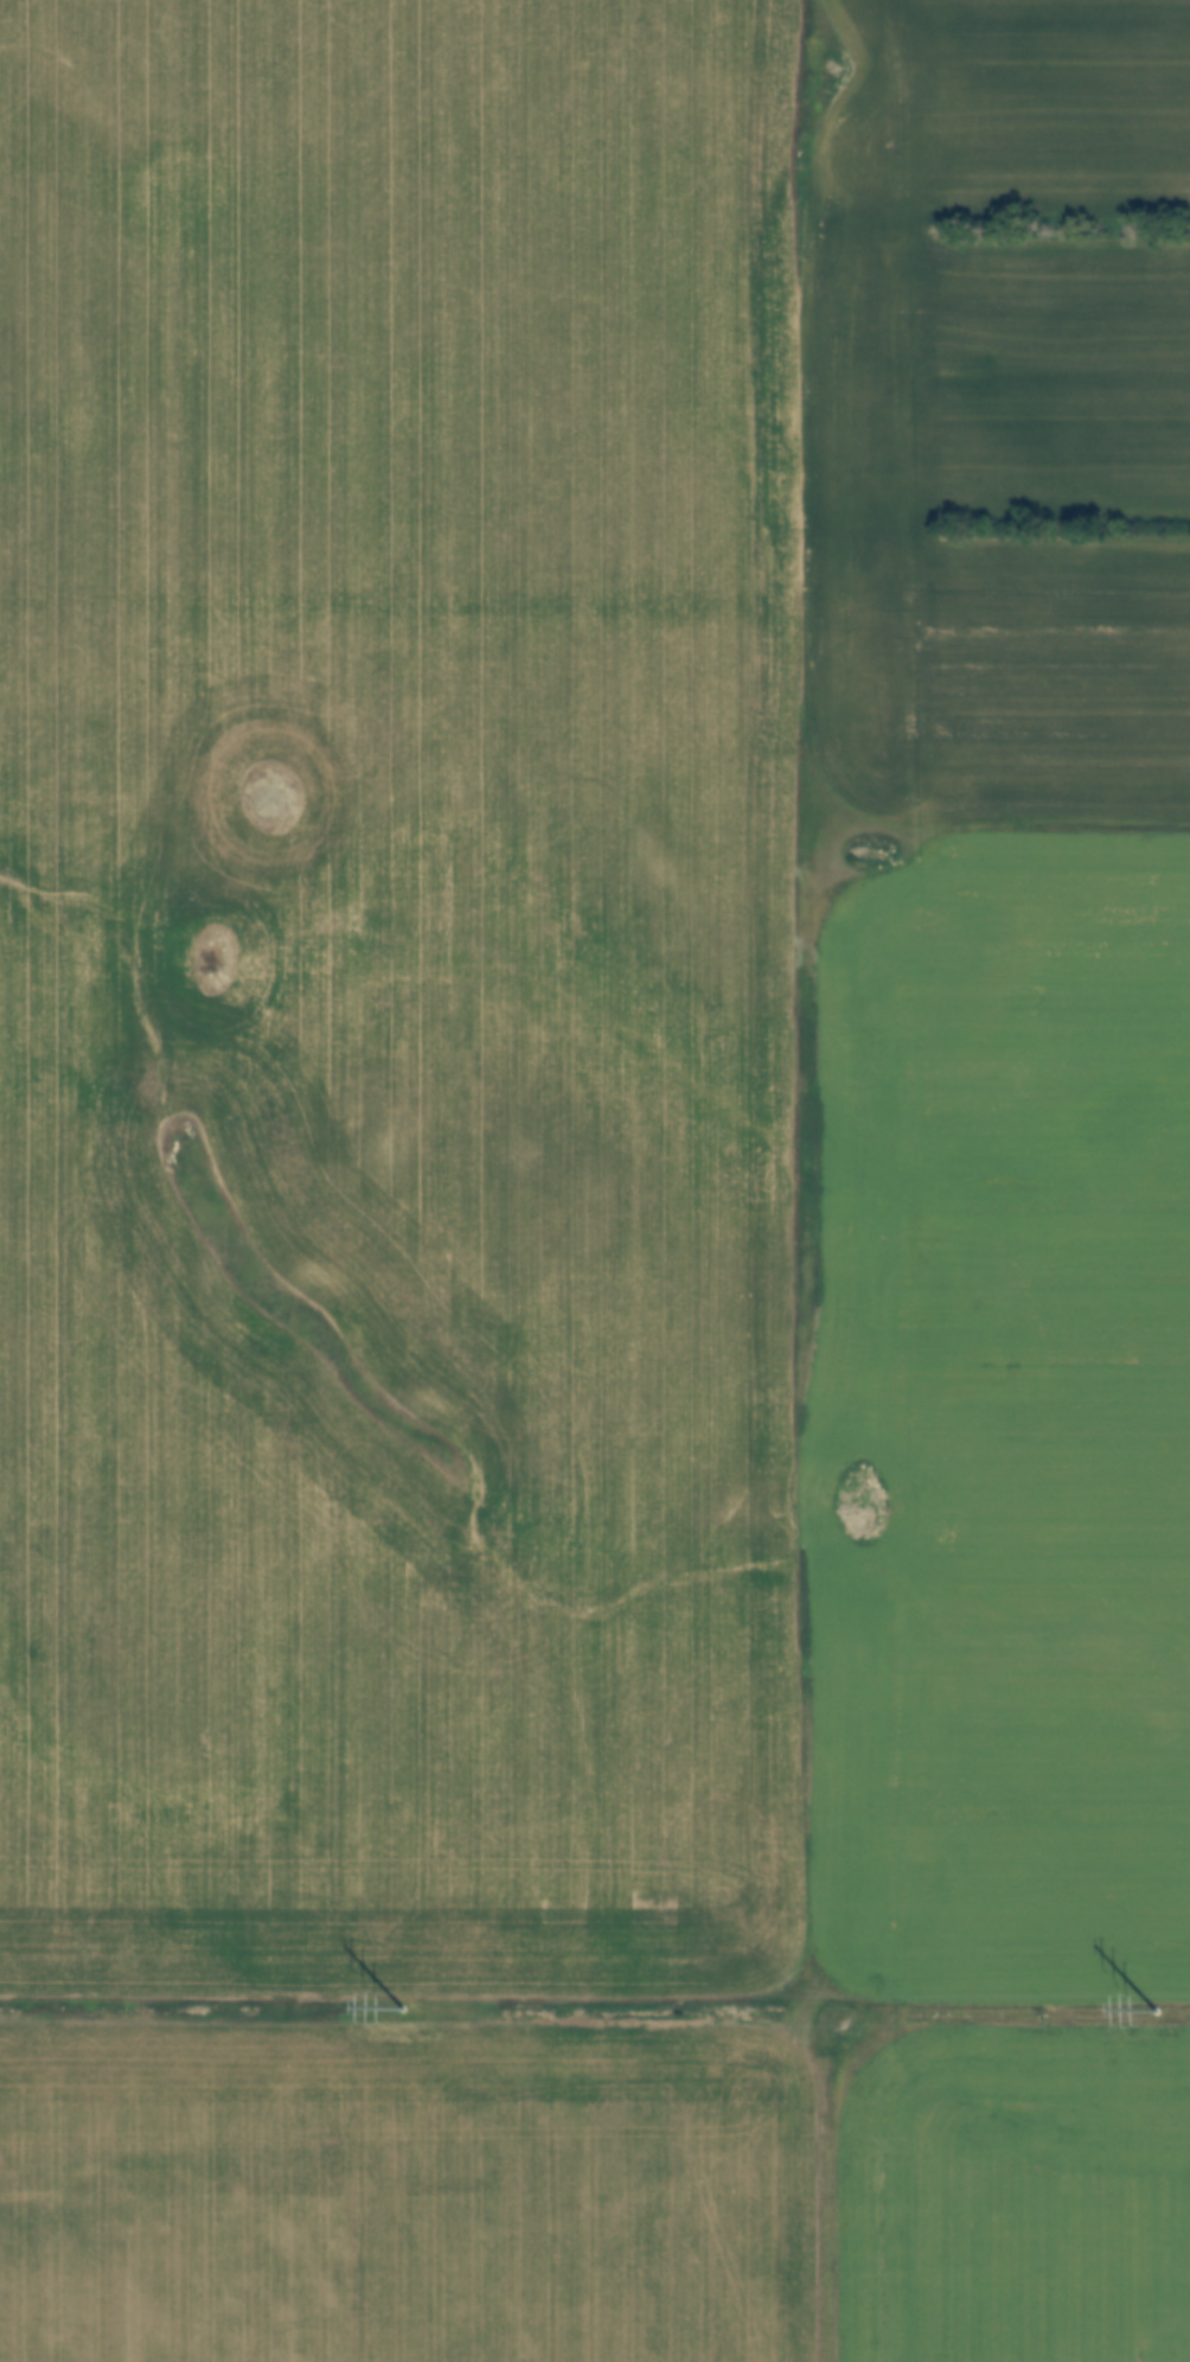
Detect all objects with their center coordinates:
power tower: (399, 2006)
power tower: (1154, 2009)

